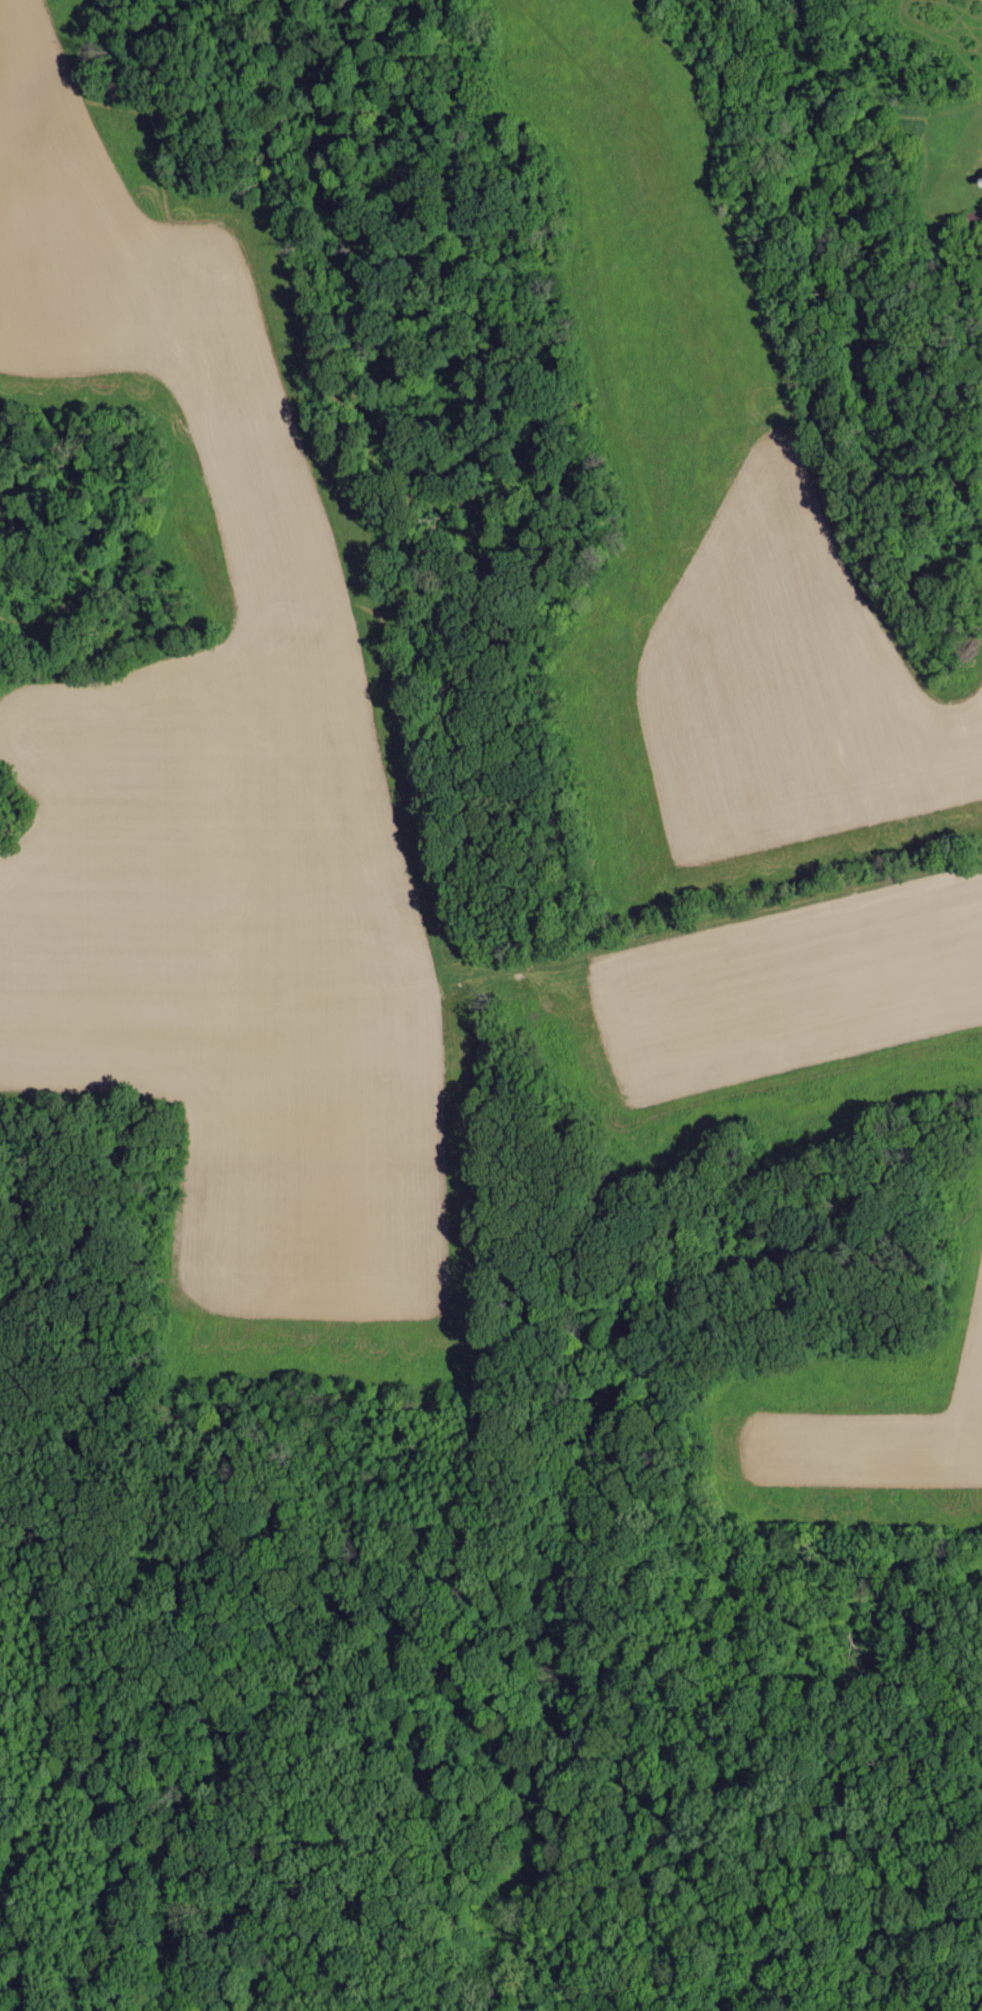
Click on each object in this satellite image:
building: (978, 178)

